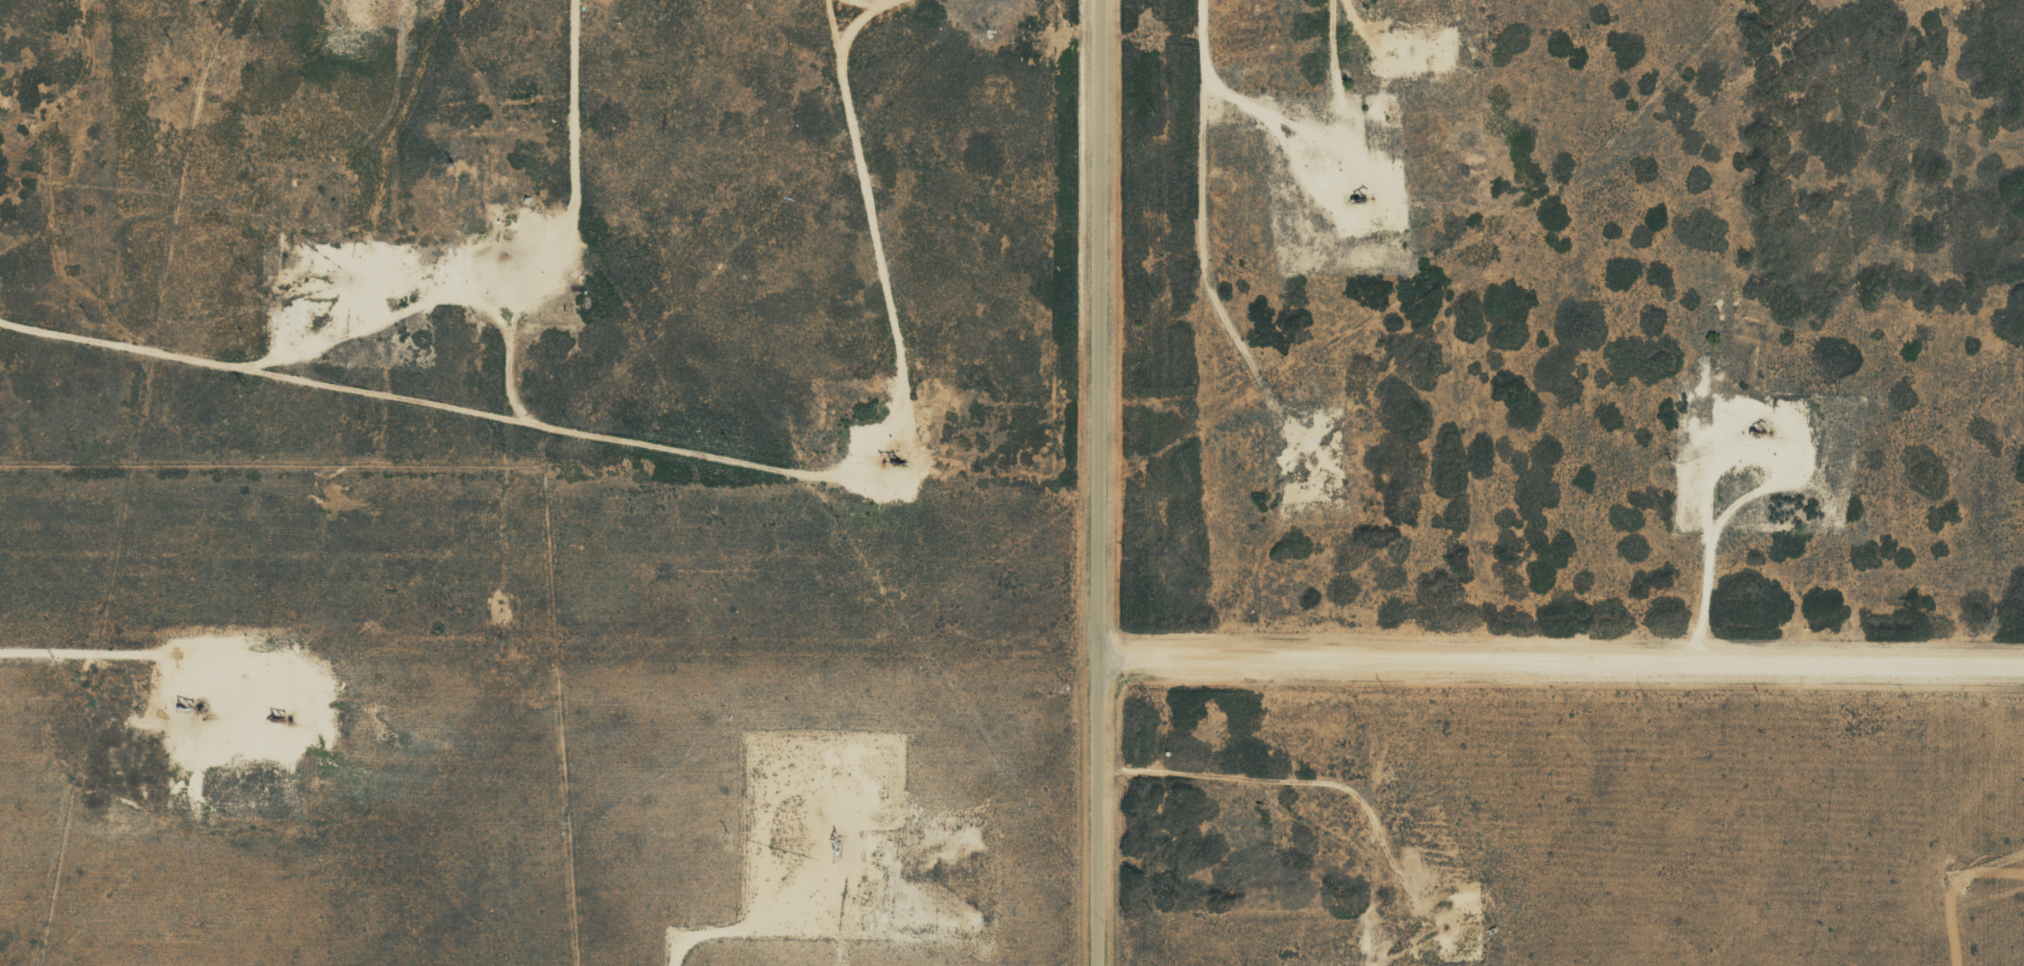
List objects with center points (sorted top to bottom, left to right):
petroleum well: (1357, 194)
road: (670, 417)
petroleum well: (898, 464)
road: (1087, 483)
road: (1555, 647)

